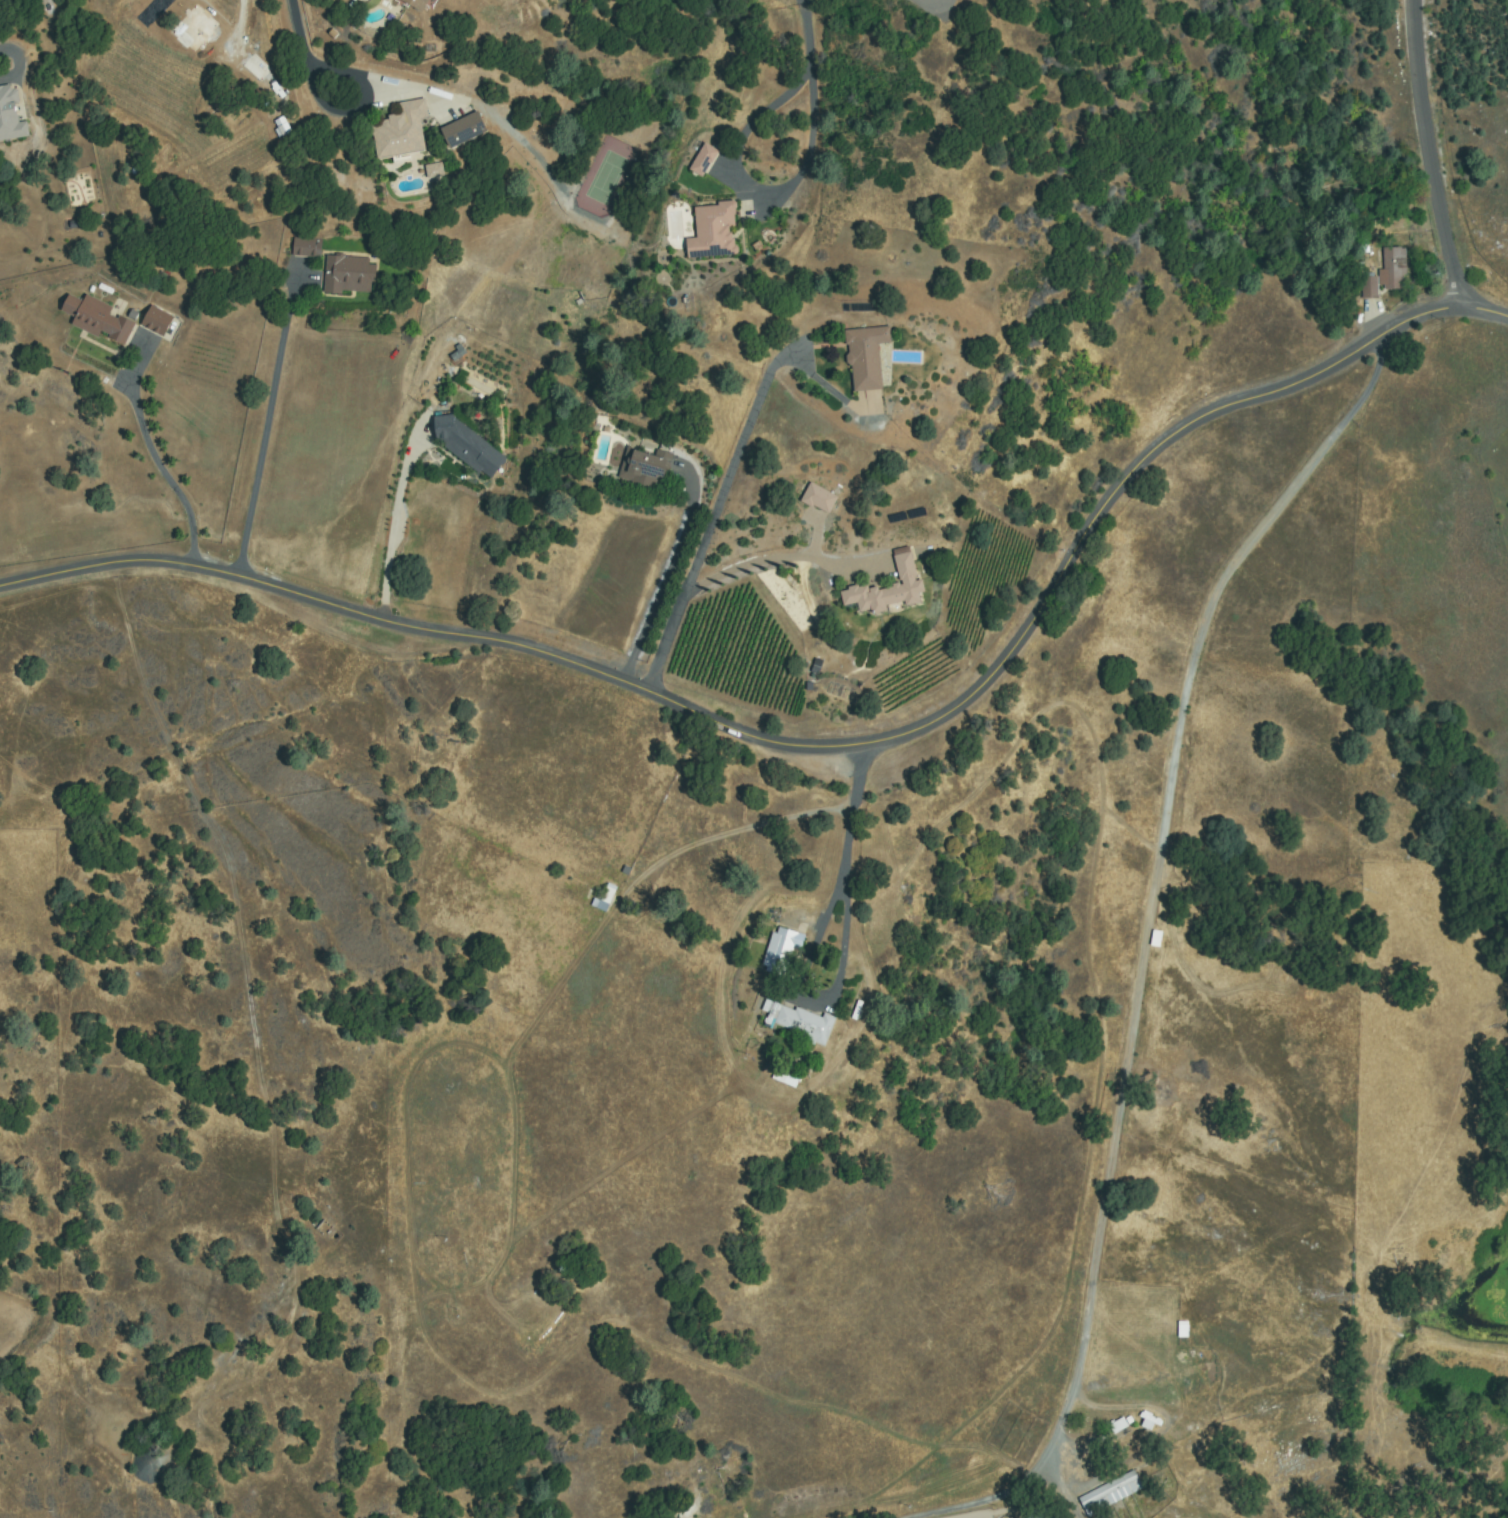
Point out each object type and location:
building: (417, 3)
building: (11, 115)
airport: (1477, 122)
building: (462, 132)
building: (401, 133)
road: (1428, 159)
building: (704, 161)
building: (434, 171)
building: (712, 232)
building: (306, 249)
building: (1393, 268)
building: (348, 275)
building: (1368, 289)
building: (98, 319)
building: (158, 321)
building: (866, 357)
building: (467, 447)
building: (645, 468)
park: (1474, 476)
building: (819, 499)
road: (709, 529)
building: (887, 591)
road: (825, 752)
building: (604, 899)
building: (781, 951)
road: (1144, 951)
building: (802, 1022)
building: (1180, 1328)
building: (1150, 1420)
building: (1115, 1424)
building: (1111, 1493)
building: (1045, 1514)

